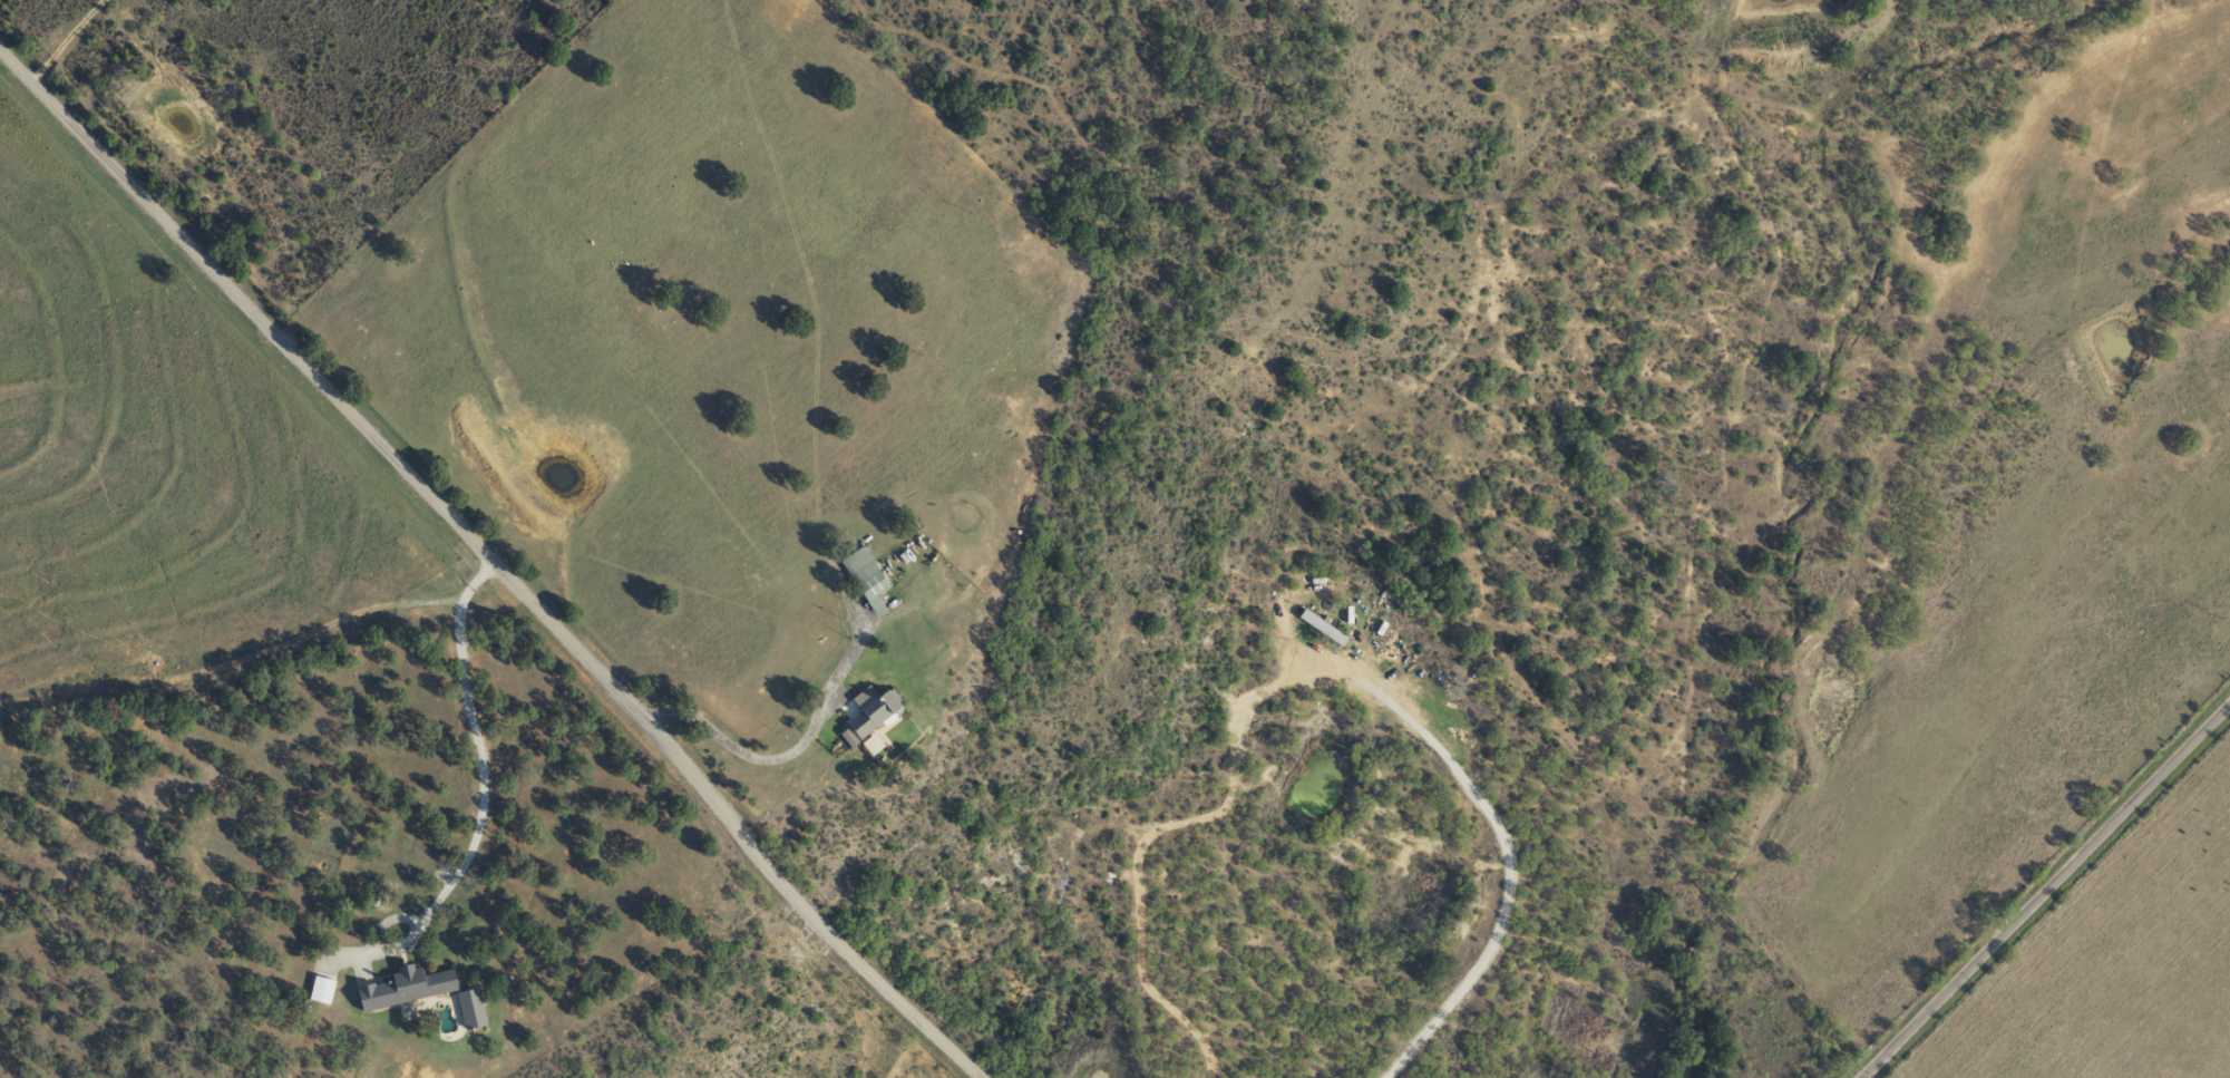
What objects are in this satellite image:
road: (71, 37)
road: (496, 566)
building: (863, 581)
road: (995, 608)
building: (1316, 627)
building: (867, 715)
building: (867, 744)
road: (2044, 890)
building: (401, 987)
building: (318, 989)
building: (467, 1008)

